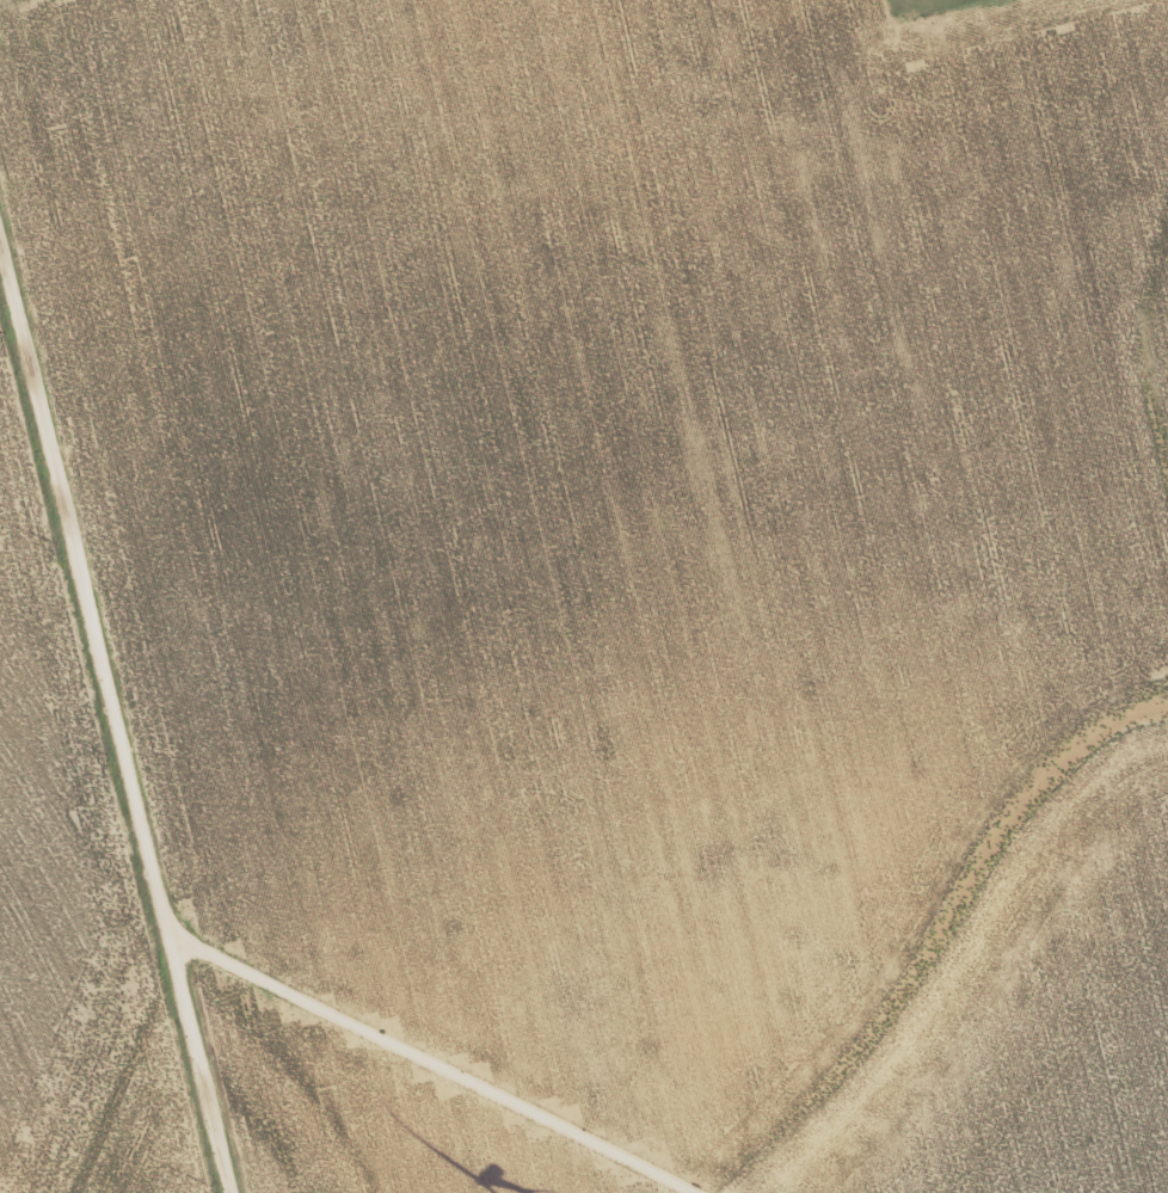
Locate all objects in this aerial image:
road: (117, 719)
road: (428, 1065)

